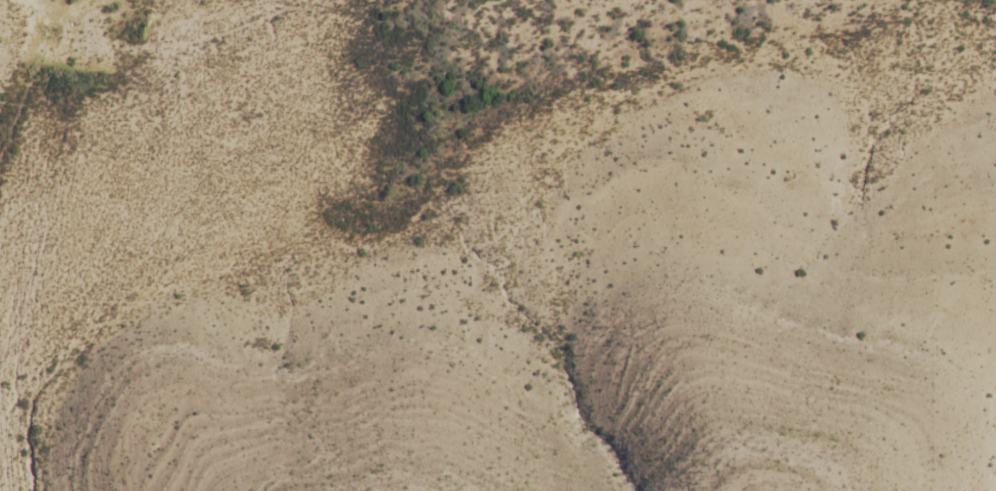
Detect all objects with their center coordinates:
road: (47, 6)

